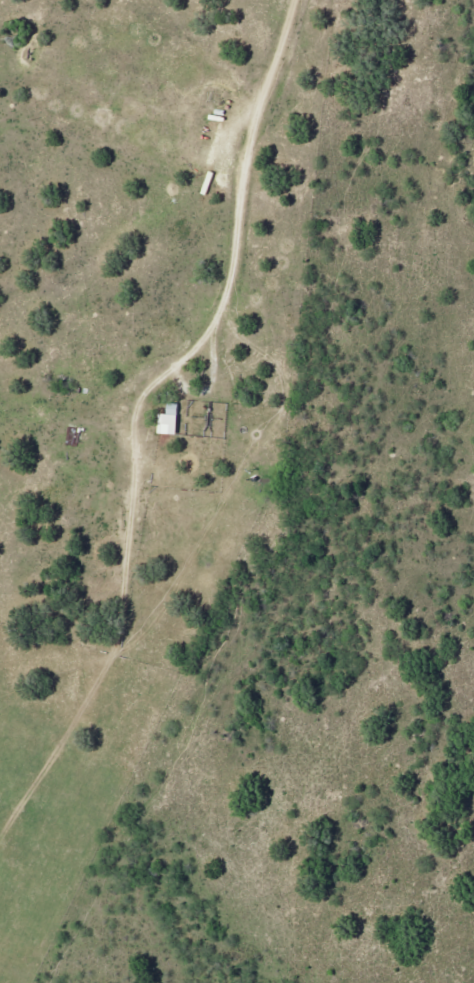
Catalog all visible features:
road: (239, 226)
building: (170, 419)

